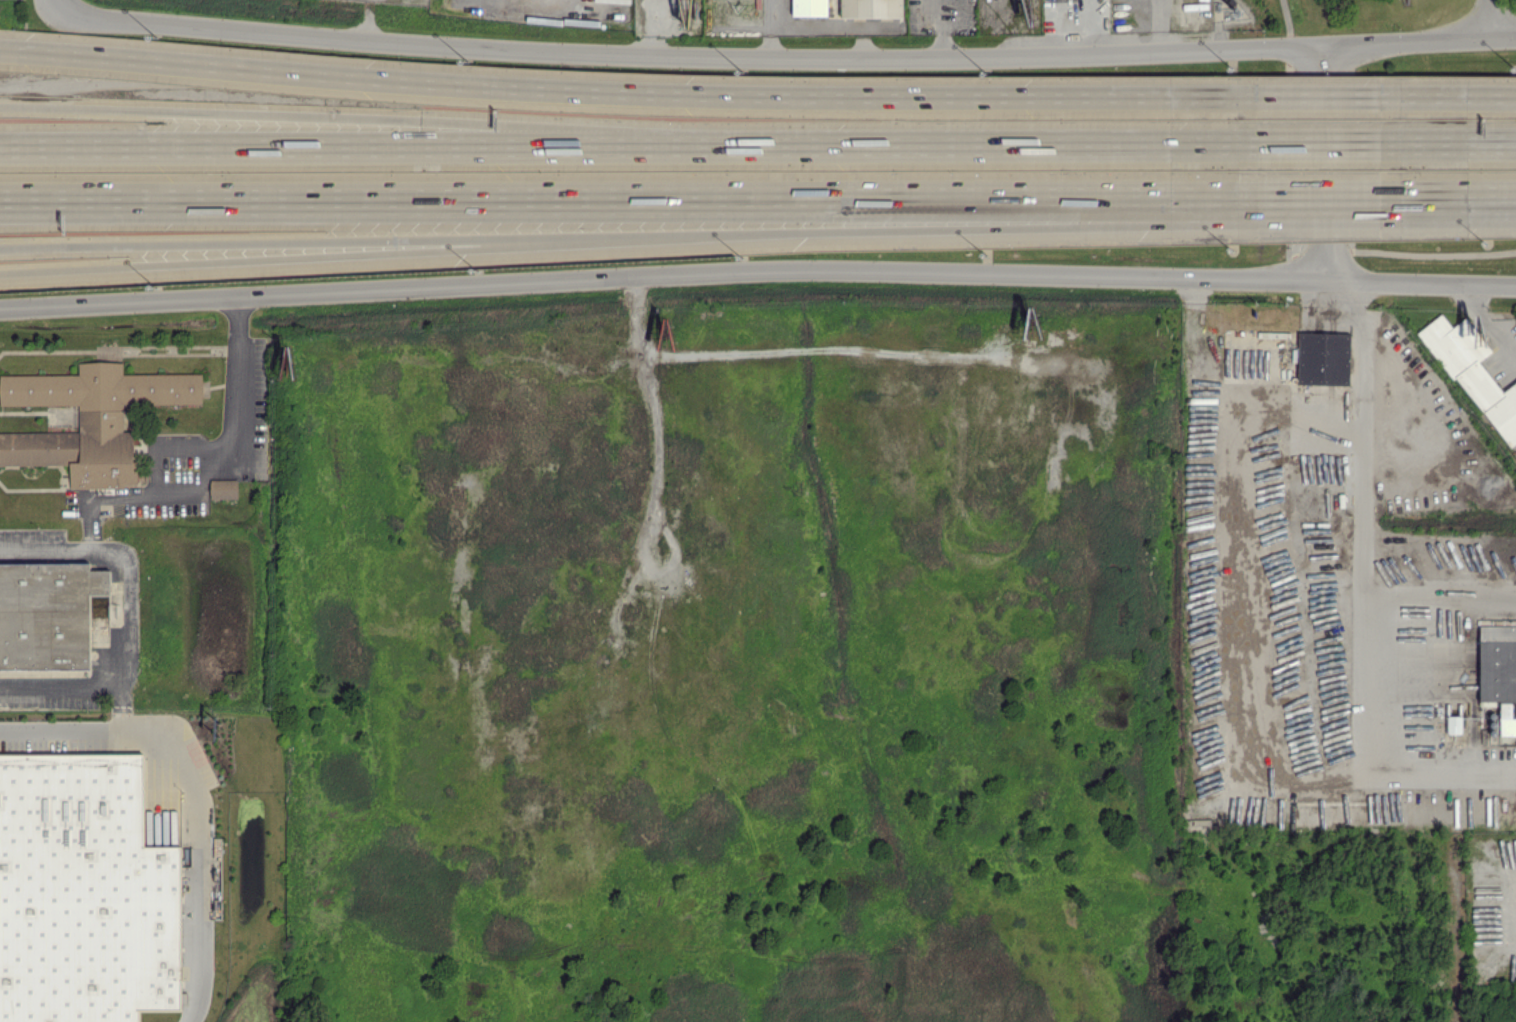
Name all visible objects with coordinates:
road: (51, 1)
building: (809, 7)
building: (871, 8)
road: (944, 18)
road: (1499, 18)
road: (367, 20)
road: (1287, 22)
road: (829, 25)
road: (767, 28)
road: (1417, 40)
road: (682, 57)
road: (617, 92)
road: (1351, 96)
road: (1491, 97)
road: (341, 116)
road: (1490, 143)
road: (1358, 144)
road: (966, 145)
road: (340, 147)
road: (1322, 163)
road: (1490, 200)
road: (627, 201)
road: (1360, 201)
road: (1360, 212)
road: (904, 226)
road: (277, 243)
road: (1403, 253)
road: (277, 256)
road: (663, 276)
road: (1421, 281)
road: (1358, 299)
road: (1487, 320)
building: (1323, 358)
building: (1474, 374)
building: (90, 419)
road: (1361, 456)
road: (199, 459)
building: (223, 488)
road: (122, 581)
road: (1440, 594)
building: (45, 610)
building: (1499, 672)
road: (58, 684)
building: (1453, 724)
road: (51, 731)
road: (187, 751)
road: (1367, 756)
road: (1191, 767)
building: (82, 891)
road: (1508, 912)
road: (194, 935)

